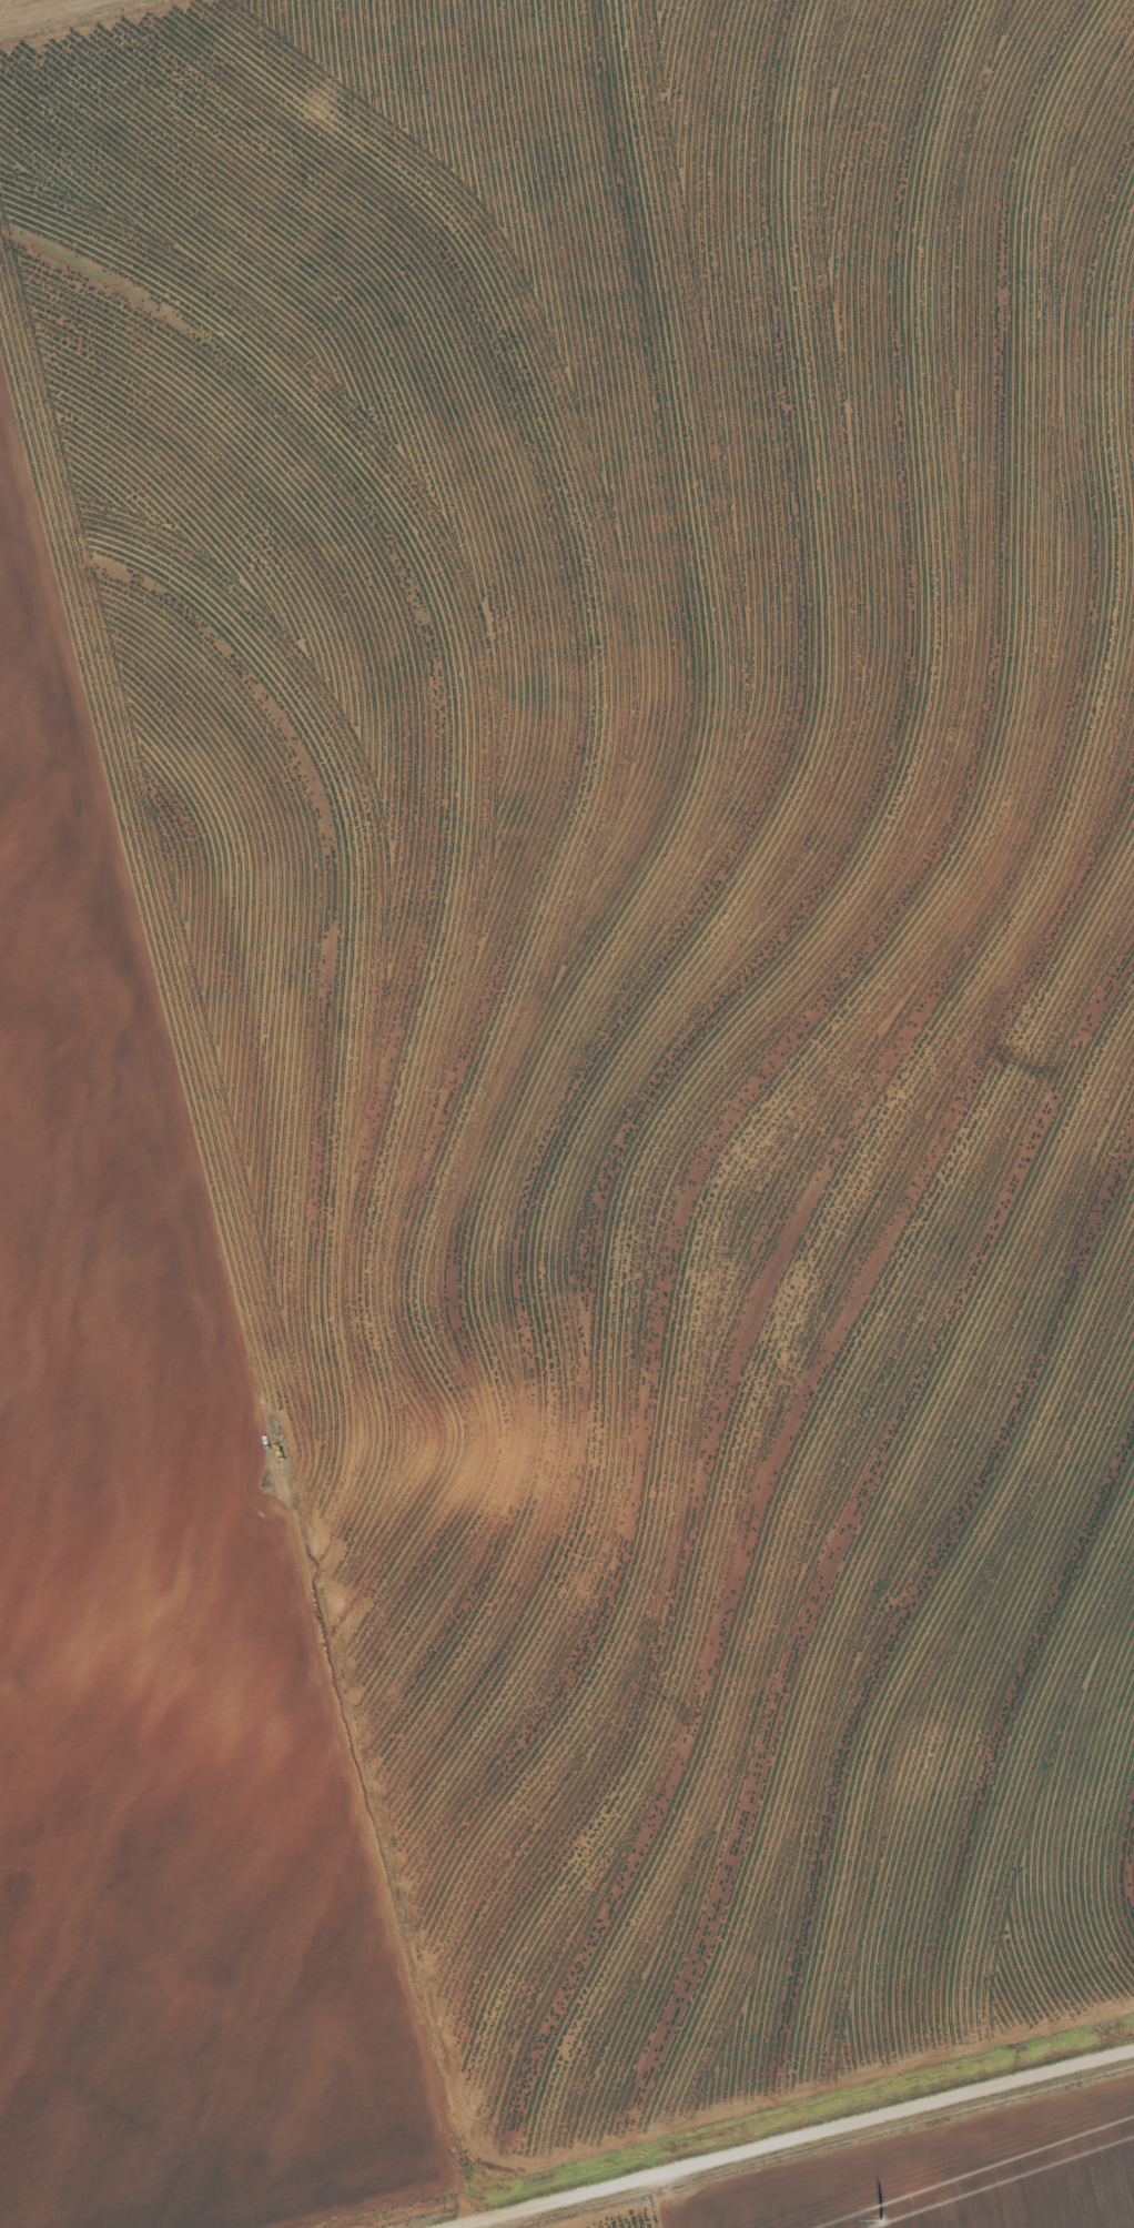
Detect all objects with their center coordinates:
road: (236, 1214)
road: (768, 2134)
power tower: (883, 2218)

